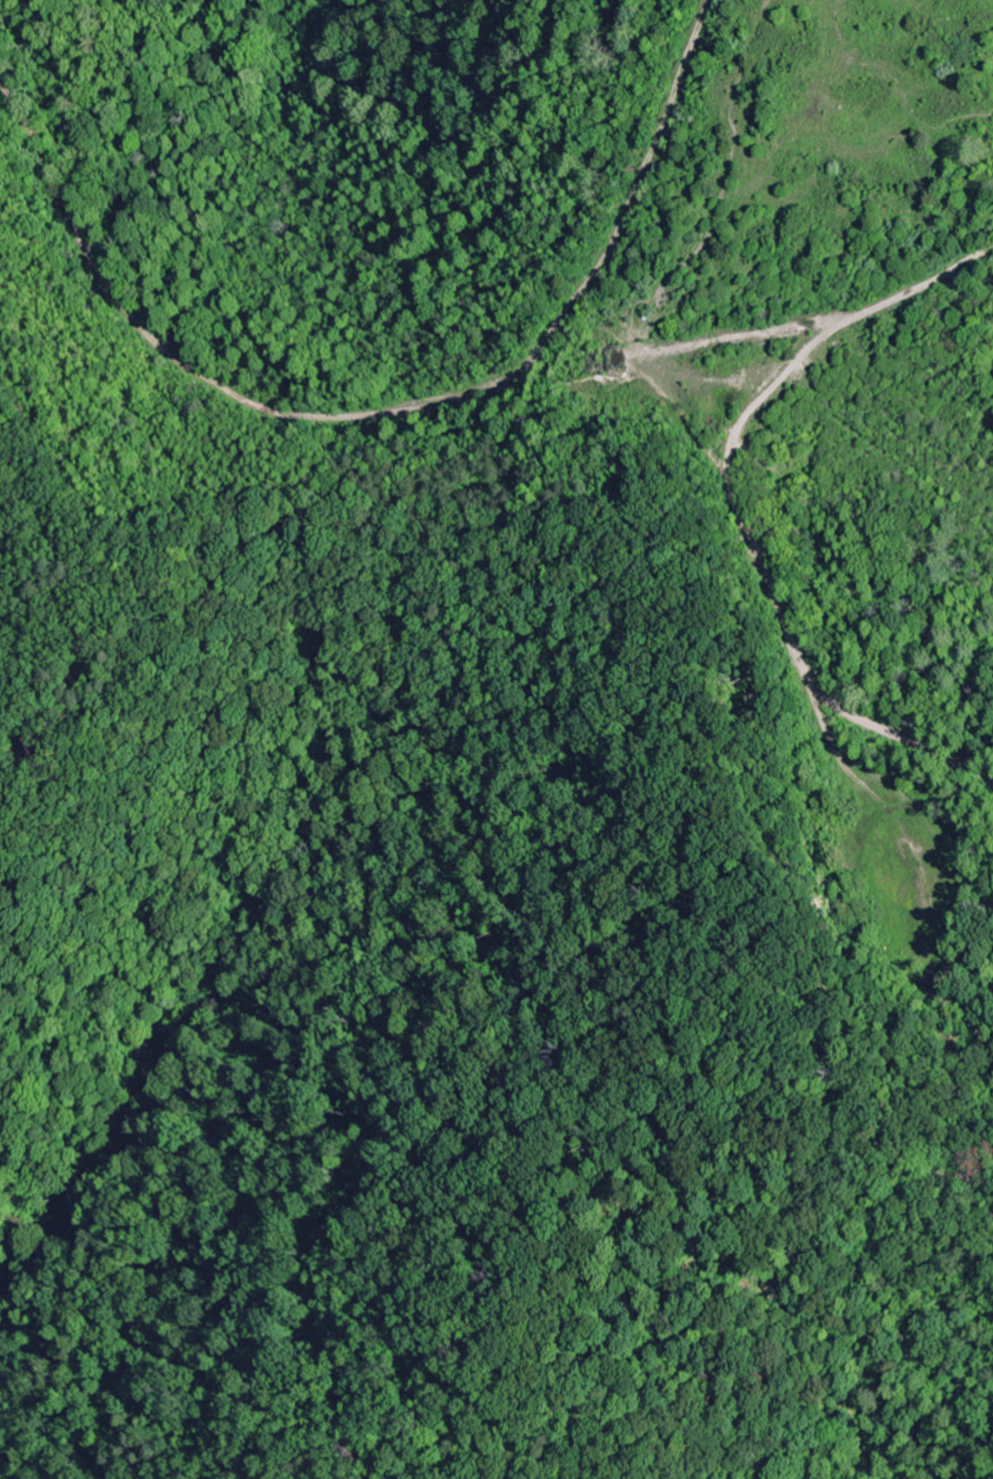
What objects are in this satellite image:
road: (896, 259)
road: (601, 415)
road: (161, 490)
road: (319, 1383)

